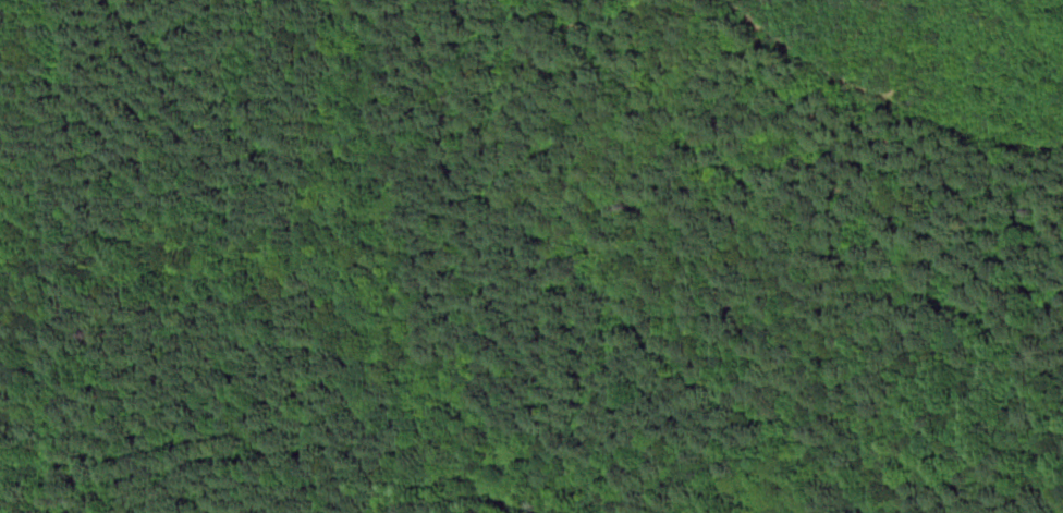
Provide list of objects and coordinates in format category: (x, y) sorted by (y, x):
road: (806, 41)

